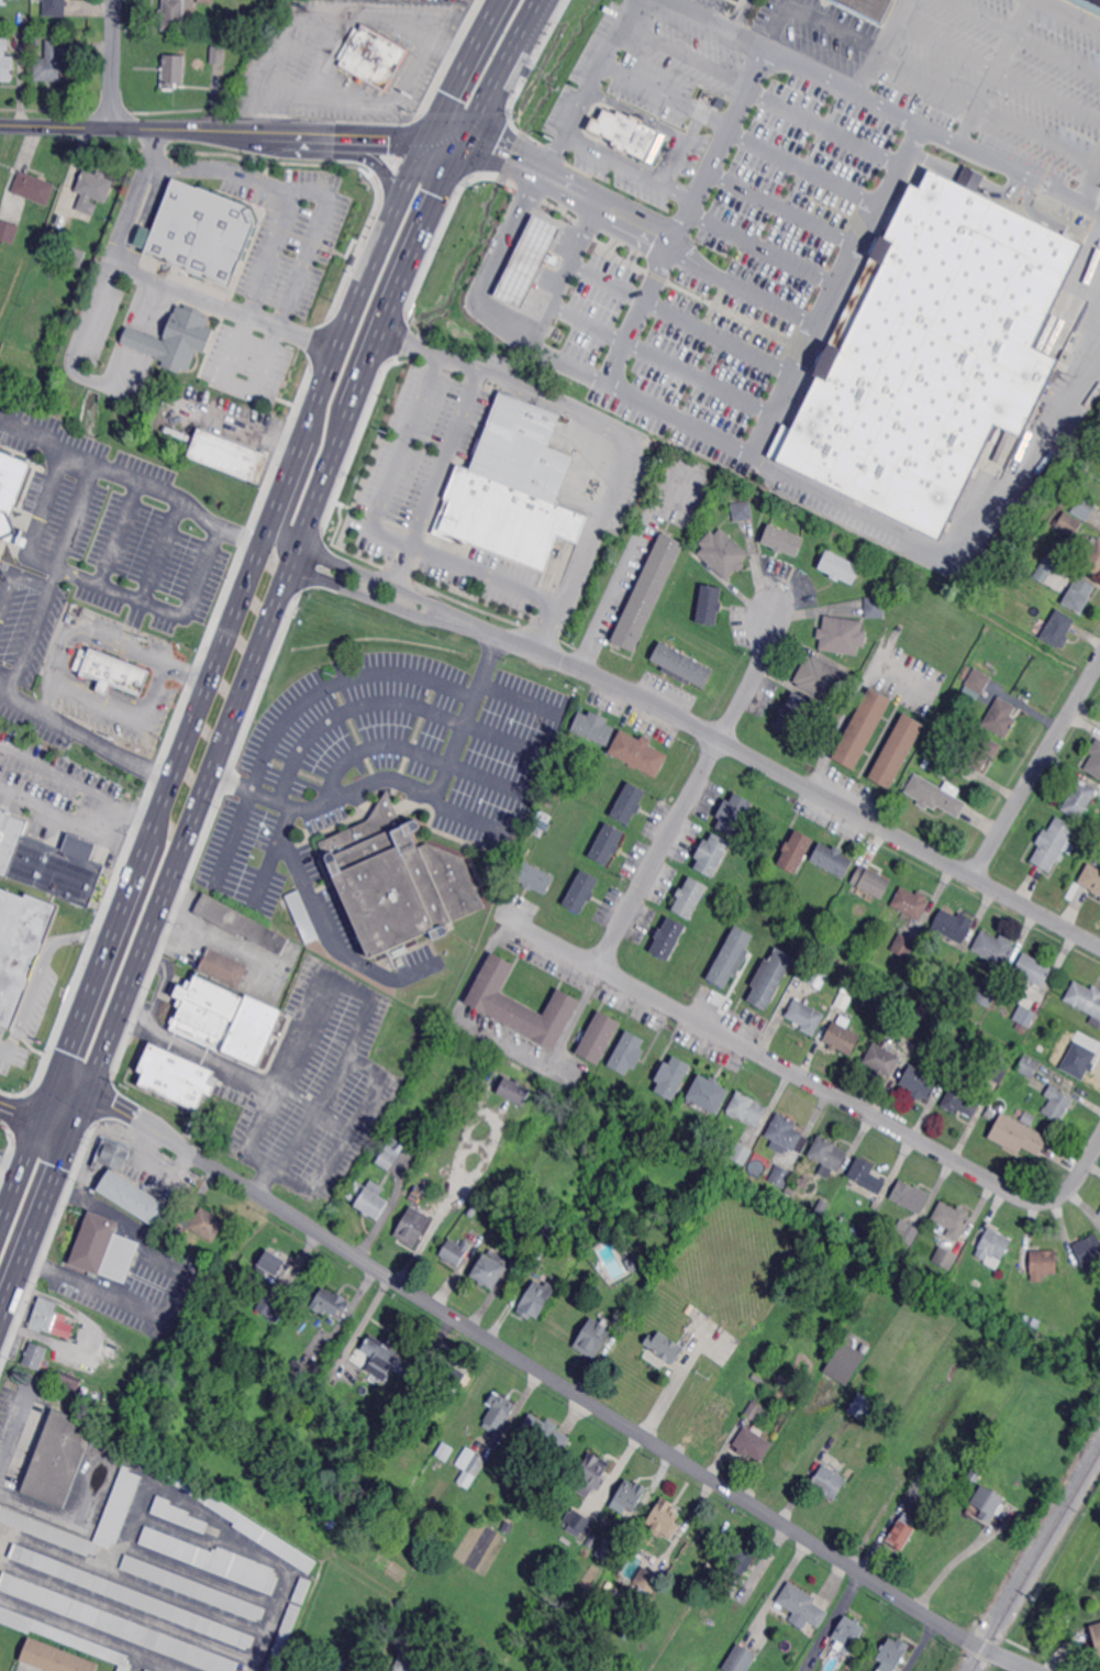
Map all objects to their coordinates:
building: (208, 1)
building: (1089, 4)
building: (55, 8)
building: (867, 9)
road: (1076, 12)
road: (741, 13)
building: (174, 14)
road: (325, 15)
road: (771, 20)
building: (7, 23)
road: (523, 30)
road: (862, 31)
building: (36, 37)
road: (469, 48)
building: (219, 54)
building: (374, 57)
parking lot: (346, 58)
building: (5, 60)
building: (56, 60)
road: (114, 63)
road: (870, 66)
building: (174, 70)
building: (526, 70)
road: (993, 70)
road: (593, 84)
road: (875, 98)
road: (230, 131)
building: (625, 132)
traffic signals: (419, 143)
traffic signals: (460, 148)
road: (493, 152)
road: (221, 167)
building: (970, 177)
road: (1089, 180)
building: (34, 187)
road: (311, 187)
building: (92, 190)
parking lot: (770, 200)
road: (1086, 204)
building: (1096, 219)
building: (8, 230)
building: (200, 232)
parking lot: (289, 232)
road: (692, 240)
building: (76, 256)
building: (352, 258)
building: (526, 259)
road: (564, 266)
gas station: (573, 266)
road: (607, 276)
road: (155, 279)
road: (834, 289)
road: (484, 297)
road: (586, 319)
road: (384, 325)
road: (79, 335)
road: (337, 339)
building: (176, 340)
road: (429, 347)
building: (966, 359)
parking lot: (246, 364)
road: (237, 381)
road: (548, 398)
road: (719, 442)
building: (230, 455)
road: (396, 457)
road: (131, 476)
building: (1087, 476)
road: (434, 477)
building: (10, 489)
building: (512, 489)
building: (1085, 508)
building: (742, 511)
road: (278, 513)
building: (1069, 524)
building: (782, 541)
road: (589, 542)
building: (723, 553)
building: (1093, 557)
building: (1051, 561)
road: (622, 566)
building: (838, 567)
road: (14, 573)
road: (53, 576)
road: (486, 576)
road: (95, 580)
road: (379, 580)
building: (648, 591)
building: (1078, 595)
road: (370, 597)
building: (709, 604)
building: (874, 607)
building: (68, 617)
building: (1057, 629)
building: (841, 635)
road: (25, 643)
building: (682, 665)
building: (112, 672)
road: (186, 672)
parking lot: (113, 675)
road: (59, 678)
building: (821, 678)
building: (978, 680)
road: (514, 694)
road: (51, 696)
road: (855, 699)
road: (293, 706)
road: (333, 713)
building: (791, 713)
building: (1000, 718)
building: (595, 727)
building: (862, 729)
road: (87, 735)
road: (407, 746)
building: (938, 750)
building: (982, 751)
building: (896, 752)
building: (640, 753)
road: (873, 756)
building: (1095, 760)
building: (926, 764)
road: (1036, 770)
road: (784, 773)
parking lot: (376, 777)
road: (404, 781)
road: (692, 792)
building: (935, 796)
building: (1078, 798)
building: (630, 803)
road: (199, 808)
building: (733, 814)
road: (153, 815)
building: (541, 822)
road: (76, 823)
building: (607, 843)
building: (1053, 843)
building: (797, 851)
building: (712, 853)
building: (832, 860)
building: (45, 863)
building: (533, 877)
building: (1091, 878)
building: (398, 879)
building: (870, 882)
building: (582, 892)
building: (762, 892)
building: (690, 897)
building: (843, 899)
building: (910, 903)
building: (301, 916)
building: (240, 923)
building: (953, 926)
road: (330, 937)
building: (668, 938)
building: (903, 945)
building: (21, 947)
building: (993, 948)
building: (398, 950)
building: (731, 958)
building: (399, 960)
road: (40, 966)
building: (929, 966)
building: (1032, 970)
building: (769, 977)
building: (812, 977)
building: (986, 996)
building: (843, 999)
building: (1086, 1002)
building: (522, 1004)
building: (224, 1009)
building: (920, 1012)
building: (804, 1017)
building: (1023, 1017)
road: (505, 1034)
building: (599, 1037)
road: (304, 1039)
building: (841, 1039)
road: (3, 1045)
building: (1040, 1049)
building: (629, 1052)
building: (1077, 1059)
road: (773, 1060)
building: (881, 1061)
building: (1027, 1065)
building: (949, 1066)
building: (996, 1072)
traffic signals: (53, 1074)
building: (176, 1075)
building: (673, 1076)
building: (919, 1083)
parking lot: (313, 1084)
traffic signals: (91, 1089)
building: (515, 1089)
building: (709, 1095)
building: (962, 1102)
building: (1057, 1103)
building: (746, 1109)
building: (1027, 1118)
road: (35, 1124)
road: (32, 1128)
road: (251, 1130)
road: (345, 1130)
building: (786, 1133)
building: (703, 1136)
building: (1016, 1136)
road: (144, 1141)
building: (110, 1150)
road: (10, 1153)
building: (390, 1153)
building: (827, 1153)
building: (741, 1154)
road: (59, 1171)
road: (1078, 1175)
building: (780, 1176)
building: (866, 1176)
building: (802, 1183)
building: (791, 1188)
building: (126, 1193)
building: (522, 1196)
building: (369, 1197)
building: (910, 1197)
building: (1099, 1210)
building: (473, 1211)
building: (1099, 1214)
building: (952, 1219)
building: (202, 1224)
building: (412, 1226)
building: (553, 1229)
building: (860, 1232)
building: (905, 1232)
building: (236, 1238)
building: (91, 1243)
building: (992, 1248)
building: (455, 1250)
building: (1086, 1253)
building: (944, 1258)
building: (633, 1263)
building: (274, 1264)
building: (1042, 1264)
building: (490, 1268)
road: (177, 1292)
building: (535, 1299)
building: (330, 1301)
building: (270, 1307)
building: (49, 1319)
building: (593, 1337)
building: (665, 1346)
building: (35, 1354)
road: (519, 1357)
building: (384, 1358)
building: (843, 1361)
building: (448, 1372)
building: (297, 1375)
building: (757, 1379)
building: (68, 1382)
building: (813, 1395)
building: (413, 1397)
building: (860, 1407)
building: (499, 1410)
building: (754, 1412)
building: (716, 1420)
building: (799, 1426)
building: (545, 1434)
building: (752, 1445)
building: (446, 1451)
building: (787, 1459)
building: (57, 1460)
building: (471, 1467)
building: (591, 1474)
building: (827, 1482)
road: (164, 1485)
building: (936, 1489)
building: (630, 1495)
building: (986, 1503)
building: (116, 1514)
building: (177, 1514)
building: (231, 1515)
building: (665, 1518)
building: (579, 1523)
building: (508, 1526)
building: (901, 1532)
building: (593, 1540)
building: (608, 1549)
road: (960, 1557)
railway: (1034, 1558)
building: (214, 1560)
building: (740, 1560)
building: (647, 1582)
building: (193, 1586)
building: (301, 1591)
building: (133, 1596)
building: (802, 1604)
road: (127, 1613)
road: (832, 1620)
building: (118, 1623)
building: (376, 1626)
road: (79, 1627)
building: (849, 1630)
building: (63, 1636)
building: (285, 1637)
building: (1096, 1638)
building: (890, 1656)
building: (56, 1658)
building: (740, 1659)
road: (1009, 1659)
building: (409, 1660)
building: (330, 1664)
building: (347, 1666)
road: (254, 1667)
road: (470, 1668)
building: (145, 1670)
building: (149, 1670)

